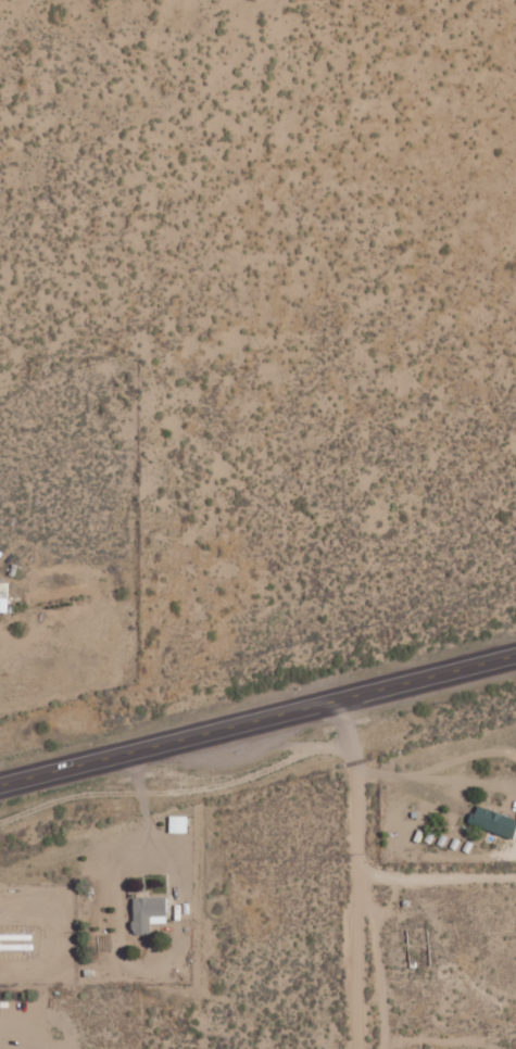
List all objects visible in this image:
building: (3, 597)
road: (257, 719)
building: (494, 821)
building: (177, 823)
road: (436, 871)
road: (356, 872)
building: (148, 912)

